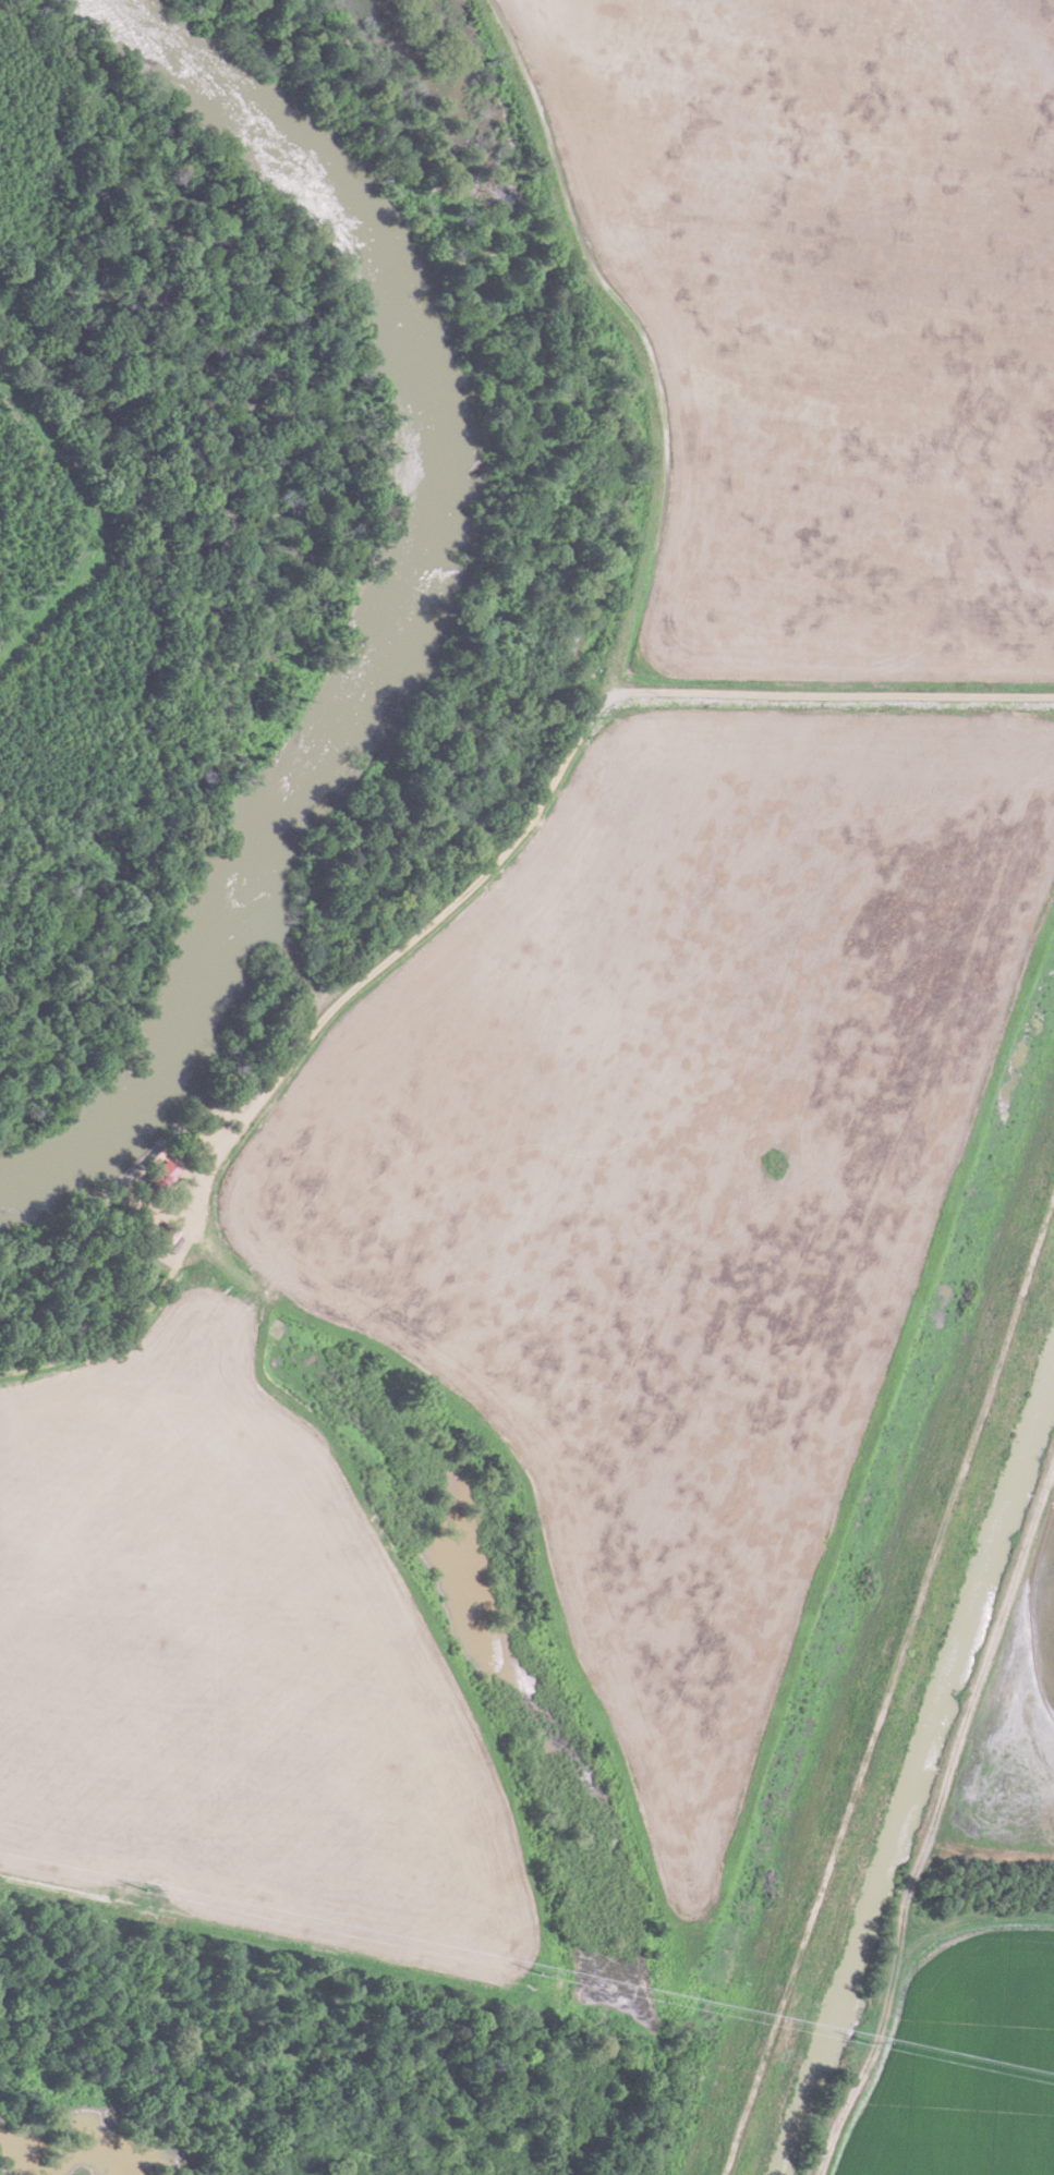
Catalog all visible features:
river: (407, 597)
power tower: (148, 1882)
power tower: (546, 1966)
power tower: (859, 2027)

